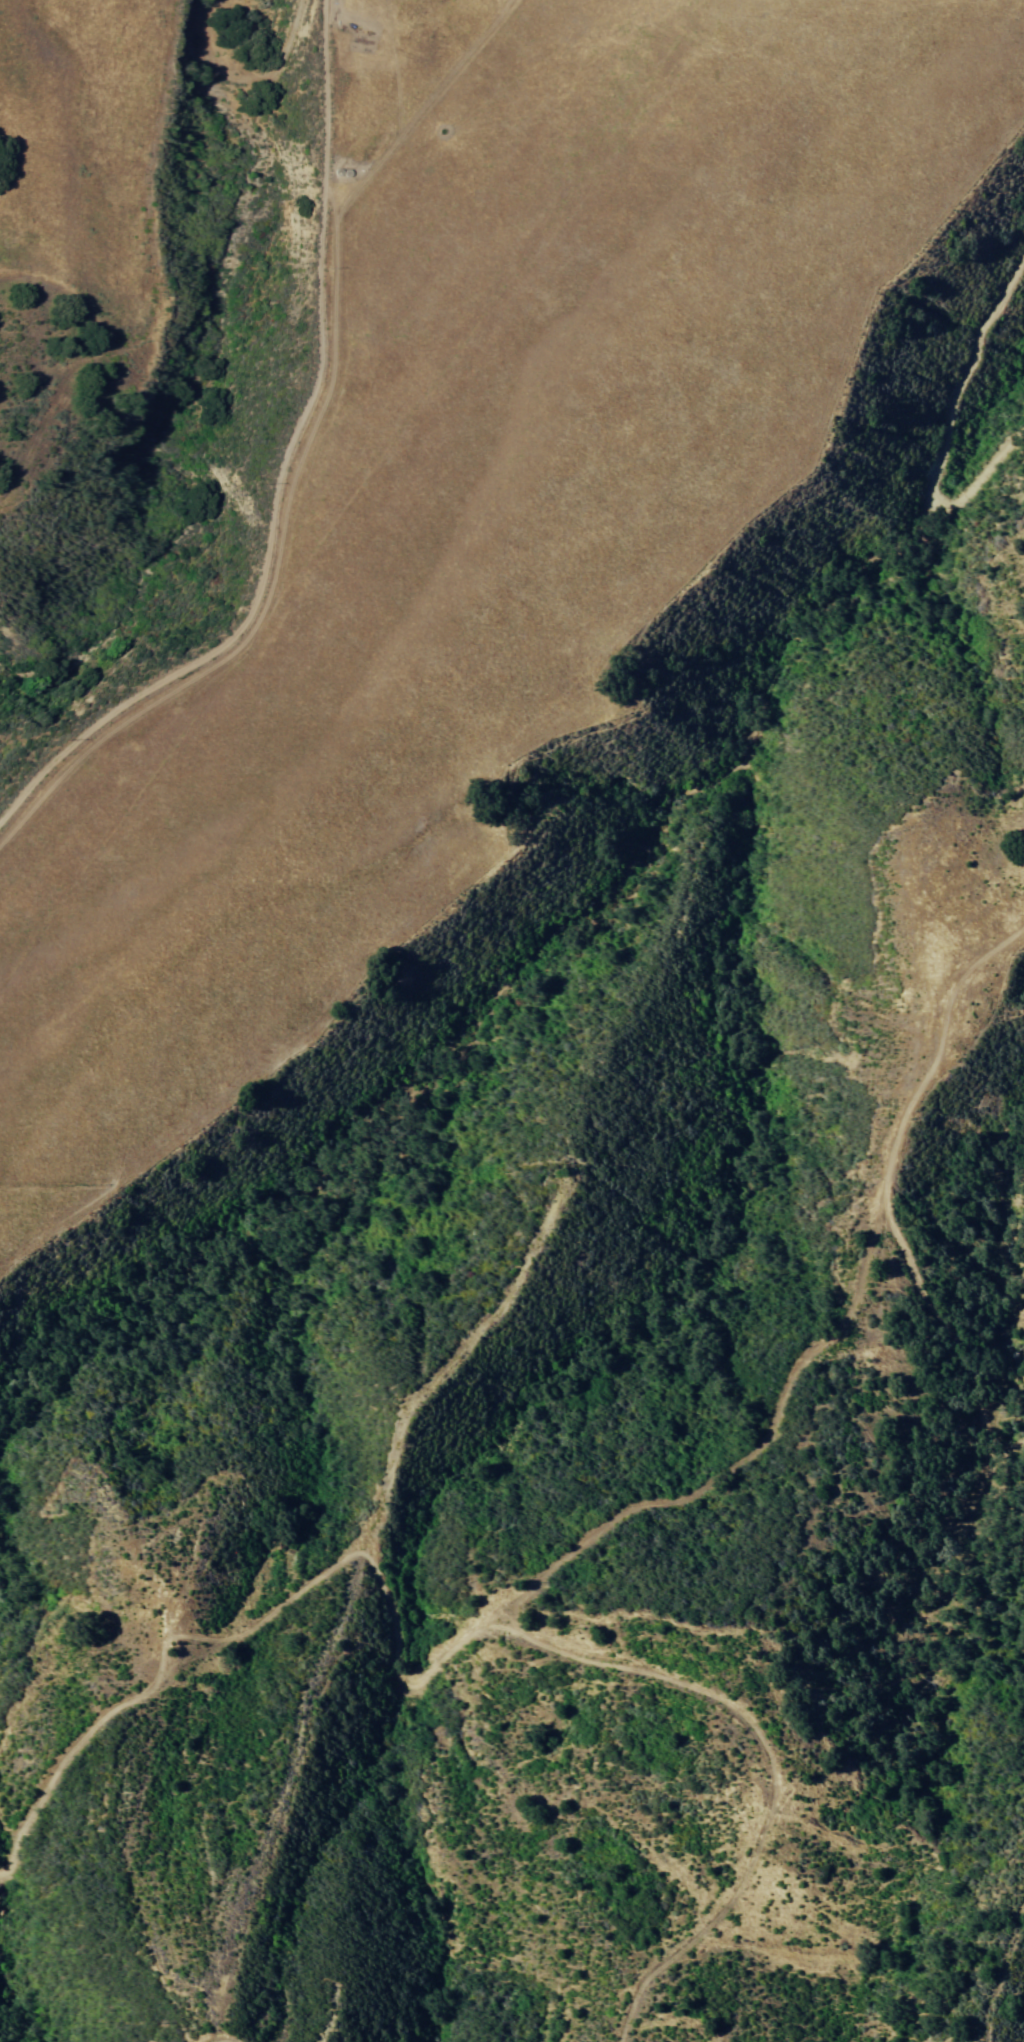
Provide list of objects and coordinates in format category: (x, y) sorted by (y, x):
road: (207, 3)
road: (549, 236)
road: (944, 433)
road: (293, 476)
road: (948, 1373)
road: (655, 1504)
road: (233, 2036)

